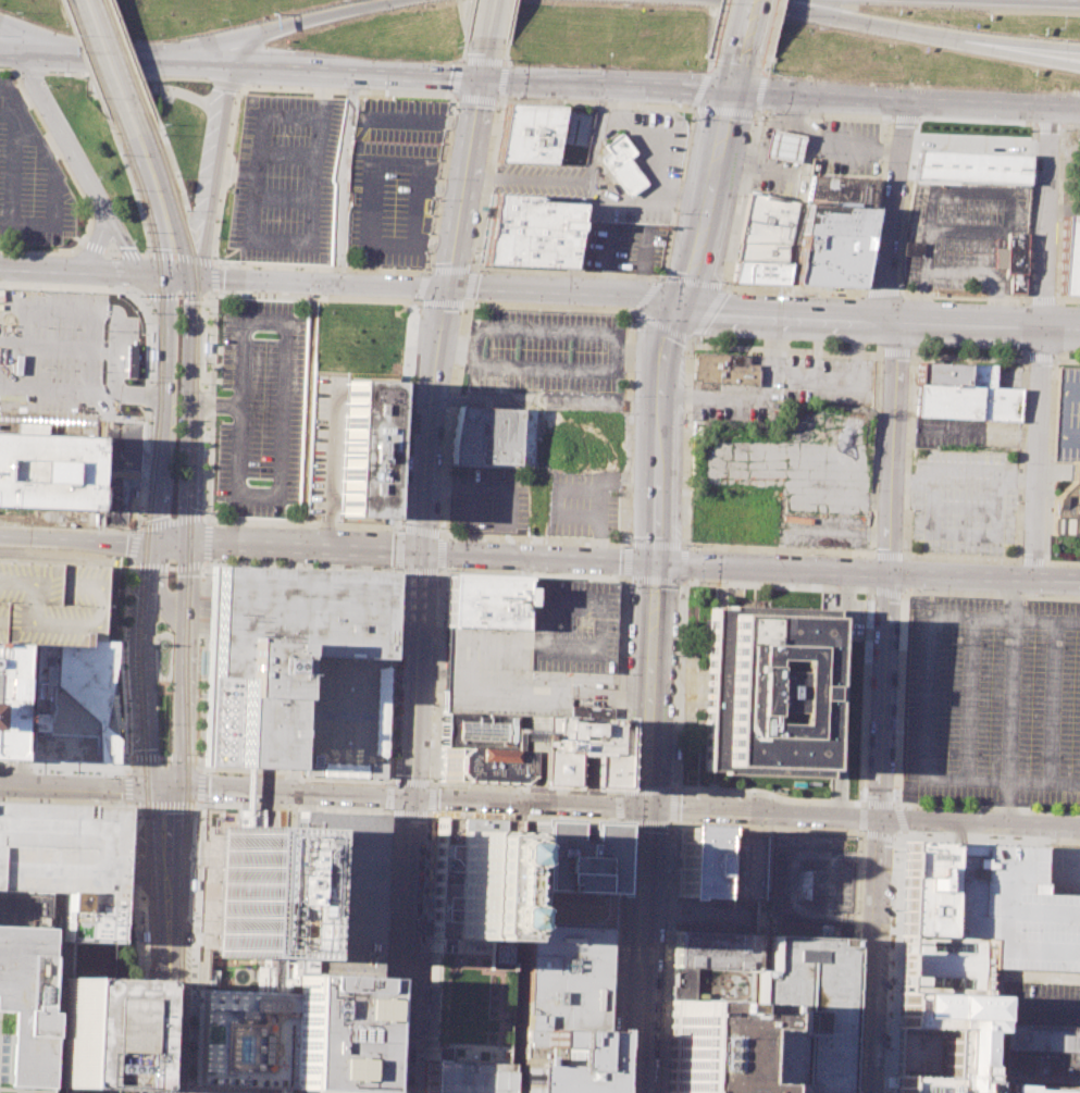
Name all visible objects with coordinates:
road: (468, 17)
road: (491, 18)
road: (511, 20)
road: (869, 23)
road: (717, 26)
road: (747, 26)
road: (772, 27)
road: (276, 28)
road: (26, 41)
road: (1025, 46)
road: (462, 48)
road: (506, 50)
road: (1025, 53)
road: (82, 54)
railway: (88, 54)
road: (115, 54)
road: (98, 55)
railway: (121, 55)
road: (131, 57)
road: (116, 58)
road: (4, 67)
road: (27, 72)
road: (740, 73)
road: (124, 77)
road: (224, 83)
traffic signals: (482, 83)
road: (484, 83)
traffic signals: (736, 92)
road: (16, 98)
road: (477, 98)
road: (907, 102)
street lamp: (455, 105)
street lamp: (495, 107)
road: (10, 110)
road: (918, 119)
road: (496, 120)
parking lot: (400, 121)
road: (460, 125)
road: (25, 127)
street lamp: (1060, 129)
building: (530, 133)
parking lot: (573, 137)
parking lot: (975, 138)
road: (976, 140)
building: (783, 145)
gas station: (783, 145)
parking lot: (849, 147)
road: (228, 151)
road: (295, 154)
road: (61, 159)
road: (683, 162)
building: (623, 165)
building: (972, 165)
road: (810, 166)
road: (212, 170)
road: (85, 176)
road: (176, 176)
road: (342, 177)
street lamp: (445, 177)
parking lot: (30, 179)
road: (129, 181)
parking lot: (286, 182)
road: (438, 184)
road: (166, 190)
road: (588, 190)
road: (982, 190)
building: (842, 191)
road: (51, 192)
road: (449, 192)
road: (706, 197)
road: (148, 200)
parking lot: (390, 201)
building: (534, 211)
street lamp: (676, 212)
road: (891, 212)
road: (1046, 218)
street lamp: (1057, 220)
building: (767, 229)
parking lot: (964, 232)
road: (215, 239)
building: (833, 245)
road: (98, 246)
building: (527, 246)
parking lot: (624, 247)
building: (913, 248)
road: (36, 249)
road: (91, 251)
building: (1070, 256)
building: (1013, 260)
street lamp: (430, 265)
road: (459, 266)
road: (472, 266)
road: (440, 269)
road: (424, 270)
road: (96, 271)
street lamp: (479, 271)
road: (960, 271)
building: (761, 272)
road: (123, 274)
traffic signals: (149, 274)
traffic signals: (161, 274)
street lamp: (666, 274)
traffic signals: (191, 275)
road: (661, 276)
street lamp: (650, 278)
street lamp: (658, 278)
street lamp: (722, 280)
road: (693, 281)
street lamp: (725, 283)
road: (729, 284)
road: (434, 285)
road: (470, 285)
traffic signals: (446, 286)
road: (112, 287)
road: (420, 287)
road: (818, 289)
road: (645, 293)
street lamp: (1054, 293)
road: (312, 297)
street lamp: (411, 299)
road: (921, 301)
traffic signals: (676, 302)
road: (413, 303)
road: (439, 303)
road: (994, 303)
road: (467, 305)
street lamp: (574, 305)
street lamp: (1072, 305)
street lamp: (415, 306)
street lamp: (463, 309)
street lamp: (538, 310)
road: (632, 310)
road: (709, 312)
street lamp: (632, 316)
road: (877, 322)
railway: (154, 323)
railway: (202, 323)
road: (661, 325)
road: (551, 331)
street lamp: (633, 331)
flagpole: (177, 333)
road: (208, 333)
street lamp: (703, 336)
road: (693, 340)
street lamp: (867, 345)
road: (57, 347)
street lamp: (517, 347)
road: (772, 347)
street lamp: (570, 349)
road: (817, 349)
street lamp: (1010, 349)
parking lot: (63, 351)
road: (784, 351)
road: (895, 351)
road: (112, 352)
parking lot: (546, 355)
street lamp: (685, 357)
road: (1040, 359)
road: (1053, 359)
road: (1067, 360)
flagpole: (177, 361)
street lamp: (1027, 363)
road: (543, 365)
building: (725, 369)
building: (941, 374)
building: (980, 375)
road: (777, 377)
parking lot: (830, 382)
flagpole: (176, 389)
road: (135, 394)
parking lot: (747, 394)
street lamp: (631, 395)
road: (910, 396)
building: (947, 400)
building: (998, 402)
road: (545, 403)
road: (210, 405)
road: (213, 405)
parking lot: (261, 408)
street lamp: (685, 408)
road: (283, 410)
street lamp: (445, 410)
road: (1063, 414)
building: (1067, 414)
road: (401, 415)
parking lot: (1068, 417)
road: (47, 419)
road: (120, 421)
road: (626, 428)
road: (447, 430)
building: (698, 430)
road: (659, 431)
parking lot: (967, 433)
road: (966, 435)
building: (494, 437)
street lamp: (906, 443)
road: (686, 444)
building: (324, 445)
parking garage: (324, 445)
building: (361, 448)
road: (1036, 451)
road: (874, 452)
road: (1046, 452)
road: (1022, 459)
road: (1050, 460)
parking lot: (799, 463)
street lamp: (1023, 463)
building: (46, 470)
road: (1054, 472)
street lamp: (682, 476)
flagpole: (173, 477)
road: (484, 487)
street lamp: (630, 489)
road: (596, 490)
parking lot: (489, 501)
road: (555, 501)
parking lot: (966, 501)
parking lot: (583, 504)
flagpole: (172, 506)
road: (470, 507)
building: (1067, 507)
street lamp: (99, 512)
street lamp: (108, 512)
street lamp: (115, 512)
road: (126, 513)
road: (1047, 517)
road: (188, 519)
road: (206, 520)
road: (301, 522)
road: (137, 523)
street lamp: (399, 523)
street lamp: (439, 527)
road: (399, 529)
road: (182, 531)
parking lot: (821, 531)
road: (442, 534)
street lamp: (447, 537)
street lamp: (629, 537)
road: (74, 538)
street lamp: (681, 538)
road: (147, 541)
traffic signals: (148, 541)
traffic signals: (182, 543)
street lamp: (683, 543)
road: (654, 544)
road: (283, 546)
street lamp: (616, 546)
street lamp: (902, 548)
traffic signals: (419, 550)
road: (851, 554)
road: (536, 556)
road: (623, 560)
street lamp: (208, 561)
traffic signals: (655, 561)
road: (1031, 561)
road: (1060, 561)
road: (203, 562)
road: (418, 562)
road: (438, 563)
road: (682, 563)
road: (147, 566)
road: (299, 567)
road: (395, 570)
road: (867, 570)
road: (409, 571)
street lamp: (541, 572)
street lamp: (202, 573)
street lamp: (399, 574)
road: (534, 574)
street lamp: (132, 575)
street lamp: (437, 575)
road: (655, 579)
street lamp: (698, 580)
street lamp: (625, 585)
street lamp: (916, 588)
road: (871, 589)
street lamp: (626, 591)
road: (884, 592)
road: (901, 594)
street lamp: (1031, 594)
road: (156, 596)
road: (1025, 596)
railway: (138, 597)
street lamp: (679, 597)
road: (1015, 597)
railway: (184, 598)
building: (484, 601)
building: (49, 603)
parking lot: (49, 603)
street lamp: (124, 636)
street lamp: (949, 643)
street lamp: (199, 644)
street lamp: (1032, 646)
building: (278, 649)
building: (537, 655)
parking garage: (537, 655)
fountain: (162, 657)
road: (121, 666)
road: (201, 668)
street lamp: (897, 671)
road: (436, 674)
street lamp: (197, 675)
road: (620, 682)
road: (679, 683)
road: (648, 684)
road: (170, 690)
building: (769, 691)
road: (865, 694)
street lamp: (197, 695)
building: (4, 696)
street lamp: (127, 698)
road: (929, 699)
road: (970, 699)
parking lot: (993, 700)
road: (1013, 701)
building: (66, 703)
road: (898, 703)
road: (1053, 704)
road: (881, 707)
building: (591, 711)
building: (342, 717)
parking lot: (342, 717)
street lamp: (196, 728)
building: (479, 731)
building: (567, 752)
street lamp: (945, 753)
street lamp: (124, 755)
street lamp: (197, 755)
road: (142, 757)
road: (162, 757)
road: (181, 757)
street lamp: (1028, 757)
road: (128, 758)
road: (196, 758)
road: (2, 765)
road: (76, 766)
building: (477, 766)
road: (16, 768)
road: (387, 769)
road: (126, 771)
street lamp: (113, 773)
road: (387, 781)
road: (409, 782)
road: (431, 783)
road: (74, 785)
road: (199, 785)
traffic signals: (150, 787)
road: (163, 787)
traffic signals: (176, 787)
road: (675, 787)
road: (127, 788)
road: (249, 788)
road: (524, 788)
road: (617, 792)
street lamp: (892, 794)
road: (386, 796)
road: (432, 797)
traffic signals: (408, 799)
road: (409, 799)
street lamp: (103, 802)
street lamp: (202, 802)
road: (859, 803)
road: (1008, 803)
road: (1016, 803)
road: (131, 804)
road: (320, 804)
road: (877, 804)
road: (894, 804)
road: (164, 805)
road: (290, 807)
traffic signals: (643, 809)
street lamp: (973, 810)
road: (984, 811)
street lamp: (194, 812)
road: (407, 813)
road: (431, 815)
street lamp: (137, 816)
road: (859, 818)
road: (861, 818)
road: (898, 818)
street lamp: (426, 819)
street lamp: (389, 820)
road: (672, 822)
road: (289, 828)
road: (766, 829)
street lamp: (852, 829)
road: (958, 832)
road: (859, 833)
road: (877, 834)
road: (898, 835)
road: (991, 837)
road: (1020, 840)
street lamp: (893, 850)
road: (201, 852)
road: (864, 855)
building: (561, 858)
railway: (193, 859)
road: (429, 859)
building: (65, 862)
road: (136, 862)
building: (692, 862)
building: (734, 864)
road: (159, 867)
road: (171, 867)
parking lot: (1060, 869)
road: (1065, 869)
road: (126, 871)
road: (147, 874)
road: (215, 874)
road: (126, 877)
road: (785, 883)
road: (121, 884)
road: (134, 884)
parking lot: (811, 884)
road: (189, 886)
building: (251, 887)
building: (472, 889)
building: (924, 889)
road: (190, 893)
road: (195, 893)
building: (335, 893)
road: (209, 898)
street lamp: (386, 899)
road: (120, 905)
road: (129, 905)
road: (512, 905)
road: (145, 907)
railway: (147, 907)
building: (1011, 907)
road: (120, 908)
building: (22, 909)
street lamp: (895, 909)
road: (390, 914)
road: (219, 918)
road: (860, 918)
street lamp: (191, 919)
street lamp: (141, 921)
road: (390, 923)
road: (144, 926)
road: (140, 927)
road: (899, 936)
road: (195, 943)
road: (147, 946)
building: (713, 948)
road: (194, 951)
road: (381, 951)
road: (382, 951)
road: (637, 951)
street lamp: (421, 953)
road: (389, 956)
road: (611, 959)
road: (666, 959)
road: (887, 960)
road: (204, 962)
road: (854, 962)
road: (895, 964)
building: (945, 965)
road: (388, 967)
road: (378, 972)
building: (64, 974)
street lamp: (892, 982)
road: (140, 986)
road: (140, 992)
building: (557, 992)
road: (996, 992)
street lamp: (193, 994)
street lamp: (148, 995)
building: (464, 1001)
parking garage: (464, 1001)
parking lot: (1035, 1003)
road: (1038, 1004)
road: (139, 1007)
building: (22, 1010)
building: (802, 1016)
road: (167, 1020)
road: (139, 1021)
street lamp: (381, 1021)
building: (139, 1026)
road: (139, 1027)
road: (147, 1027)
building: (98, 1033)
building: (330, 1033)
building: (1039, 1036)
building: (240, 1040)
building: (942, 1043)
building: (704, 1045)
street lamp: (889, 1048)
road: (191, 1061)
building: (1039, 1067)
building: (463, 1068)
road: (186, 1073)
street lamp: (377, 1084)
road: (507, 1085)
street lamp: (187, 1086)
building: (1034, 1089)
building: (69, 1090)
road: (69, 1090)
road: (195, 1091)
road: (235, 1091)
road: (280, 1091)
road: (281, 1091)
road: (312, 1091)
street lamp: (151, 1092)
road: (181, 1092)

